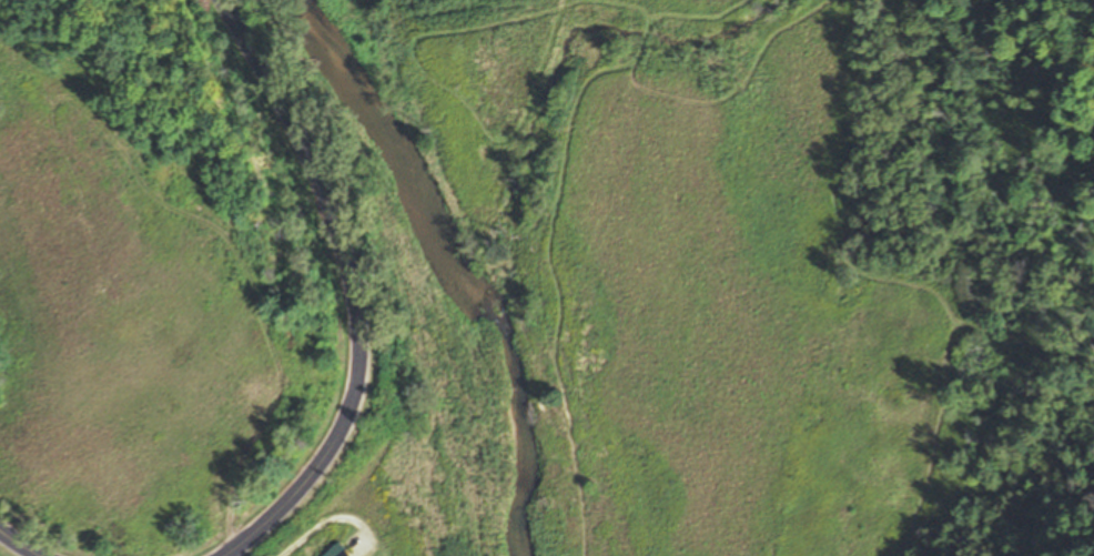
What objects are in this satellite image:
river: (454, 264)
road: (351, 284)
road: (19, 544)
building: (333, 550)

